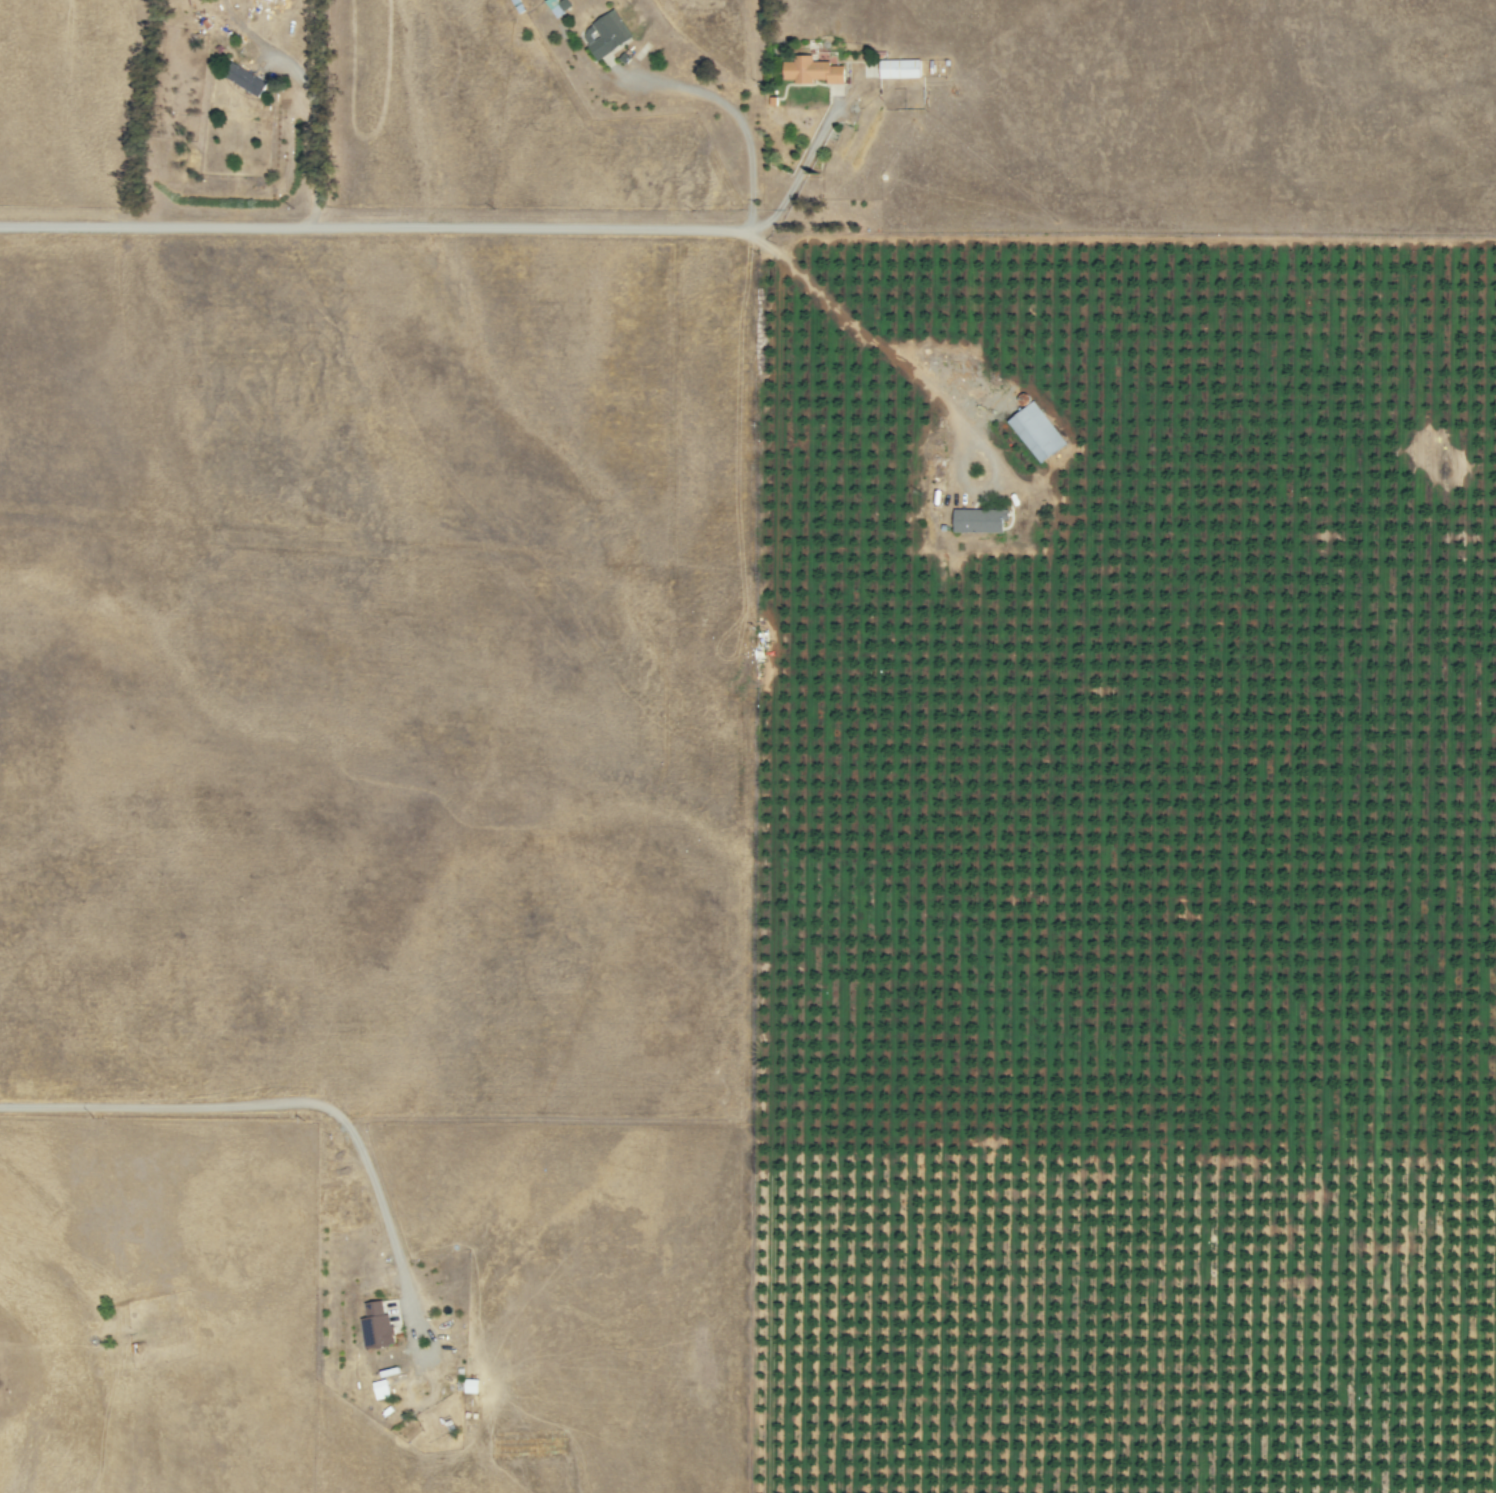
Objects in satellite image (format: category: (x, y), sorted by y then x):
building: (556, 6)
building: (608, 34)
building: (899, 68)
building: (813, 70)
building: (247, 81)
road: (731, 115)
road: (312, 135)
road: (371, 227)
building: (1036, 432)
building: (979, 520)
road: (159, 1106)
road: (393, 1249)
building: (376, 1326)
building: (469, 1386)
building: (379, 1389)

